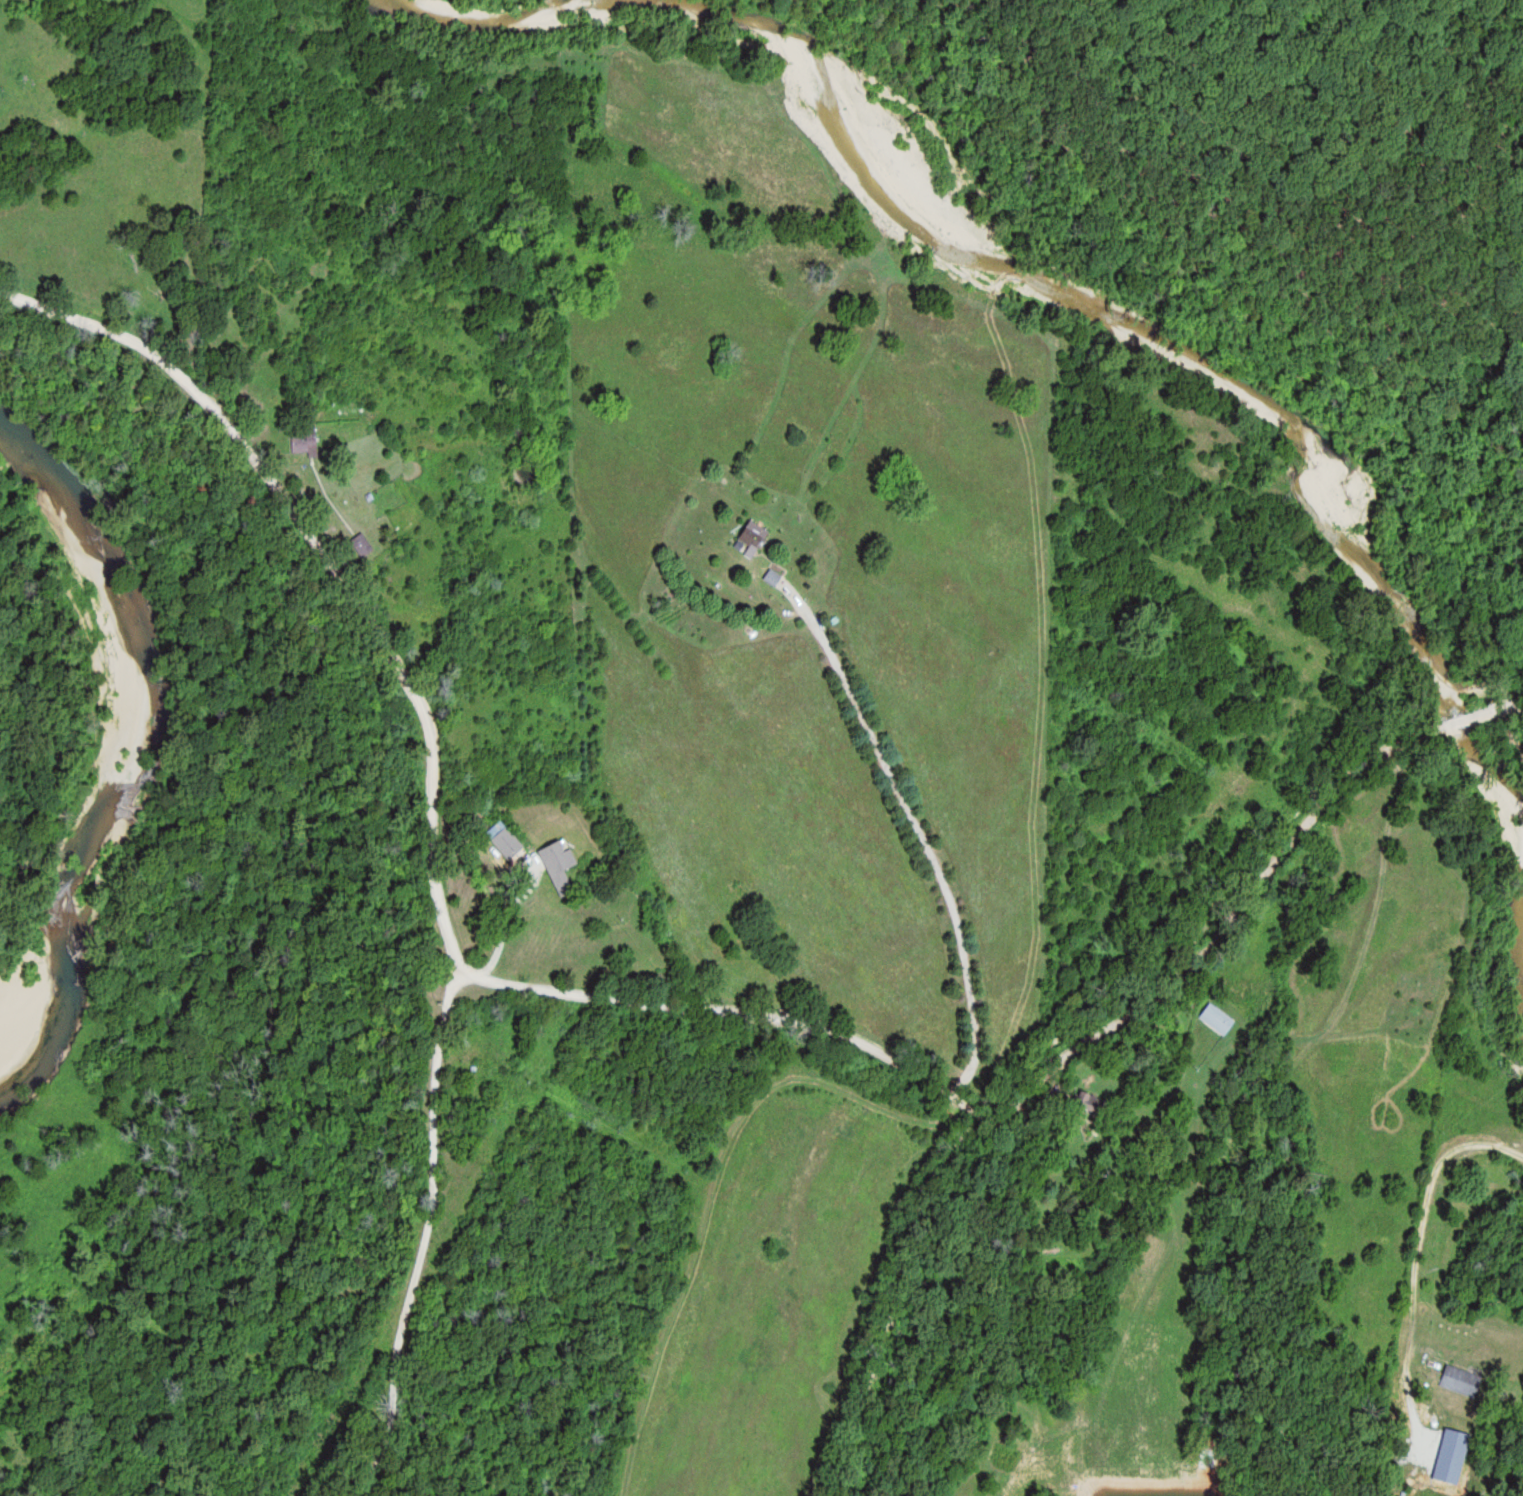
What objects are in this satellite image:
road: (247, 369)
building: (755, 534)
road: (330, 559)
river: (153, 744)
road: (921, 827)
building: (509, 841)
building: (1220, 1017)
road: (1043, 1090)
building: (1091, 1102)
road: (1170, 1145)
road: (1426, 1237)
road: (418, 1239)
building: (1465, 1379)
building: (1455, 1455)

